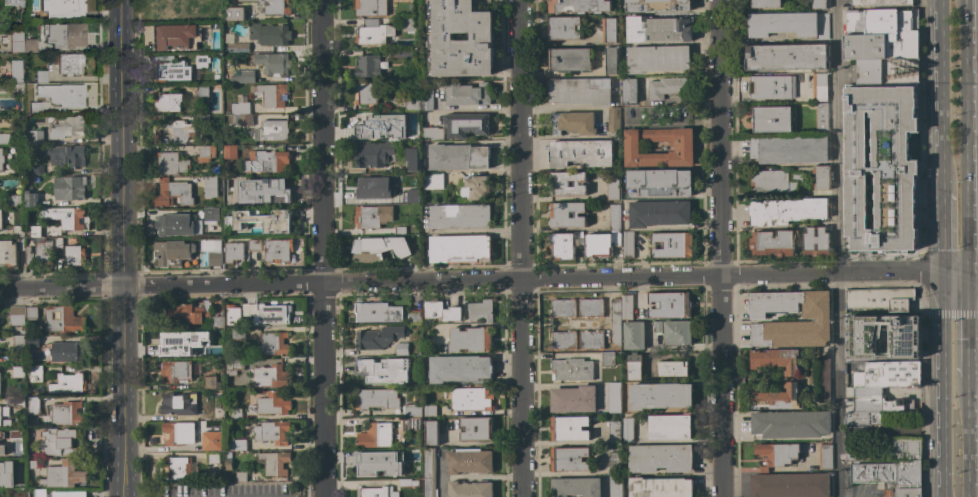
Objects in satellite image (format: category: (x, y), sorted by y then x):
building: (13, 2)
building: (880, 3)
building: (766, 4)
building: (816, 4)
building: (68, 5)
building: (658, 5)
building: (273, 6)
building: (578, 6)
building: (370, 7)
building: (165, 10)
building: (217, 12)
building: (233, 13)
building: (38, 16)
building: (369, 22)
building: (881, 22)
building: (782, 23)
building: (411, 25)
building: (564, 28)
building: (659, 29)
building: (609, 30)
building: (64, 34)
building: (269, 34)
building: (372, 34)
building: (175, 36)
building: (459, 38)
building: (21, 41)
road: (553, 42)
building: (881, 46)
building: (237, 47)
building: (400, 53)
building: (786, 57)
building: (569, 59)
building: (657, 59)
building: (201, 60)
building: (610, 60)
building: (69, 63)
building: (272, 63)
building: (229, 64)
building: (367, 66)
building: (15, 71)
building: (173, 71)
building: (887, 71)
road: (556, 73)
building: (41, 76)
building: (245, 76)
building: (667, 87)
building: (772, 87)
building: (820, 87)
building: (16, 88)
building: (202, 91)
building: (580, 91)
building: (629, 91)
building: (70, 93)
building: (366, 93)
building: (466, 93)
building: (270, 94)
road: (942, 96)
building: (426, 97)
building: (40, 102)
building: (167, 102)
building: (241, 106)
building: (821, 118)
building: (202, 119)
building: (241, 119)
building: (613, 119)
building: (771, 119)
building: (573, 123)
building: (466, 125)
building: (68, 126)
building: (380, 127)
building: (271, 130)
building: (175, 133)
building: (431, 134)
building: (34, 137)
building: (4, 139)
road: (472, 142)
road: (122, 144)
road: (964, 145)
building: (683, 148)
building: (789, 150)
building: (229, 152)
building: (580, 153)
building: (371, 154)
building: (66, 155)
building: (205, 155)
building: (457, 157)
building: (1, 159)
building: (265, 161)
building: (413, 161)
building: (170, 164)
building: (881, 165)
building: (37, 170)
building: (821, 178)
building: (432, 180)
building: (777, 180)
building: (559, 183)
building: (660, 183)
building: (210, 187)
building: (371, 187)
building: (475, 187)
building: (69, 188)
building: (612, 188)
building: (263, 190)
building: (172, 193)
building: (412, 196)
building: (30, 198)
building: (13, 201)
building: (786, 211)
building: (209, 213)
building: (658, 213)
building: (567, 215)
building: (371, 216)
building: (460, 216)
building: (0, 217)
building: (65, 217)
building: (614, 217)
building: (263, 220)
building: (171, 225)
building: (400, 230)
building: (17, 231)
building: (35, 231)
road: (944, 238)
building: (413, 240)
building: (815, 242)
building: (58, 243)
building: (772, 243)
building: (601, 244)
building: (627, 244)
building: (254, 245)
building: (564, 245)
building: (672, 245)
road: (318, 248)
building: (460, 248)
road: (518, 248)
road: (718, 248)
road: (836, 248)
building: (233, 251)
building: (277, 251)
building: (367, 251)
building: (13, 252)
building: (188, 252)
building: (44, 253)
building: (74, 255)
road: (633, 277)
road: (221, 286)
road: (62, 289)
road: (961, 290)
building: (880, 298)
road: (946, 302)
building: (669, 305)
building: (590, 307)
building: (627, 307)
building: (562, 308)
building: (441, 311)
building: (480, 311)
building: (31, 312)
building: (376, 312)
building: (193, 313)
building: (266, 313)
building: (16, 315)
building: (233, 315)
building: (416, 317)
building: (820, 319)
building: (63, 320)
building: (216, 322)
building: (616, 322)
building: (658, 327)
building: (677, 332)
road: (964, 333)
building: (237, 334)
building: (633, 335)
building: (883, 336)
building: (377, 338)
building: (470, 339)
building: (591, 340)
building: (32, 341)
building: (174, 341)
building: (563, 341)
building: (19, 343)
building: (273, 344)
building: (402, 349)
building: (211, 351)
building: (67, 352)
building: (607, 358)
building: (776, 360)
building: (234, 366)
building: (633, 367)
building: (459, 368)
building: (672, 368)
building: (571, 370)
building: (387, 371)
building: (175, 372)
building: (18, 373)
building: (35, 373)
building: (888, 374)
building: (271, 377)
building: (823, 377)
building: (211, 383)
building: (68, 384)
road: (124, 392)
building: (659, 395)
building: (614, 398)
building: (777, 398)
building: (376, 399)
building: (470, 399)
building: (572, 399)
building: (878, 401)
building: (19, 402)
building: (179, 403)
building: (271, 404)
building: (33, 405)
road: (946, 408)
building: (218, 409)
building: (412, 410)
building: (430, 410)
building: (66, 414)
building: (235, 414)
building: (0, 417)
building: (863, 418)
building: (414, 423)
building: (790, 424)
building: (670, 427)
building: (569, 428)
building: (476, 429)
building: (627, 430)
building: (272, 432)
building: (614, 432)
building: (178, 433)
building: (431, 433)
building: (1, 435)
building: (375, 436)
road: (965, 436)
building: (212, 439)
building: (58, 441)
road: (483, 443)
building: (237, 445)
building: (2, 450)
building: (885, 451)
building: (777, 454)
building: (825, 456)
building: (212, 457)
building: (659, 458)
building: (569, 459)
building: (228, 461)
building: (469, 461)
building: (274, 462)
building: (614, 463)
building: (32, 464)
building: (379, 464)
building: (179, 468)
building: (429, 472)
building: (887, 472)
road: (560, 473)
building: (7, 474)
building: (63, 474)
building: (240, 477)
building: (407, 482)
building: (790, 485)
building: (615, 486)
building: (575, 487)
building: (660, 487)
building: (469, 489)
building: (901, 490)
building: (376, 492)
building: (39, 493)
building: (66, 494)
road: (856, 495)

